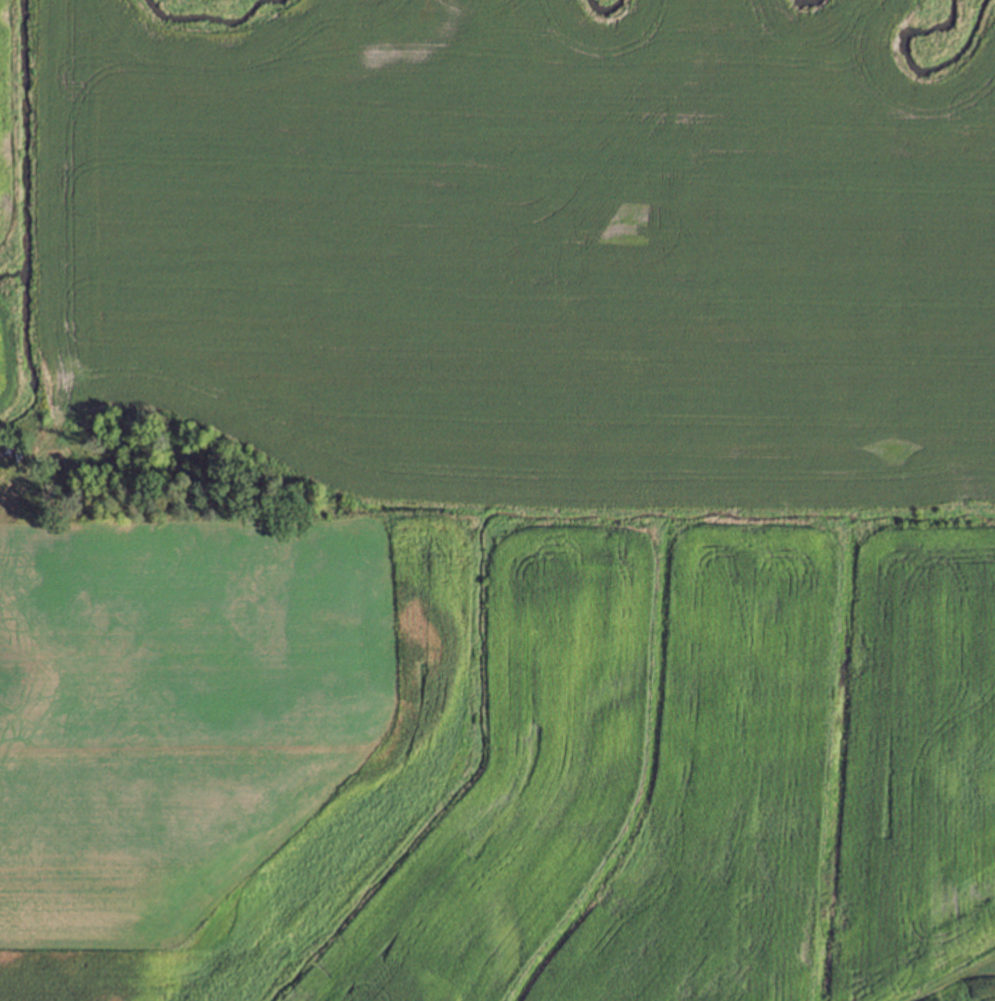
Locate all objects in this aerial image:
river: (618, 10)
river: (223, 16)
river: (929, 59)

